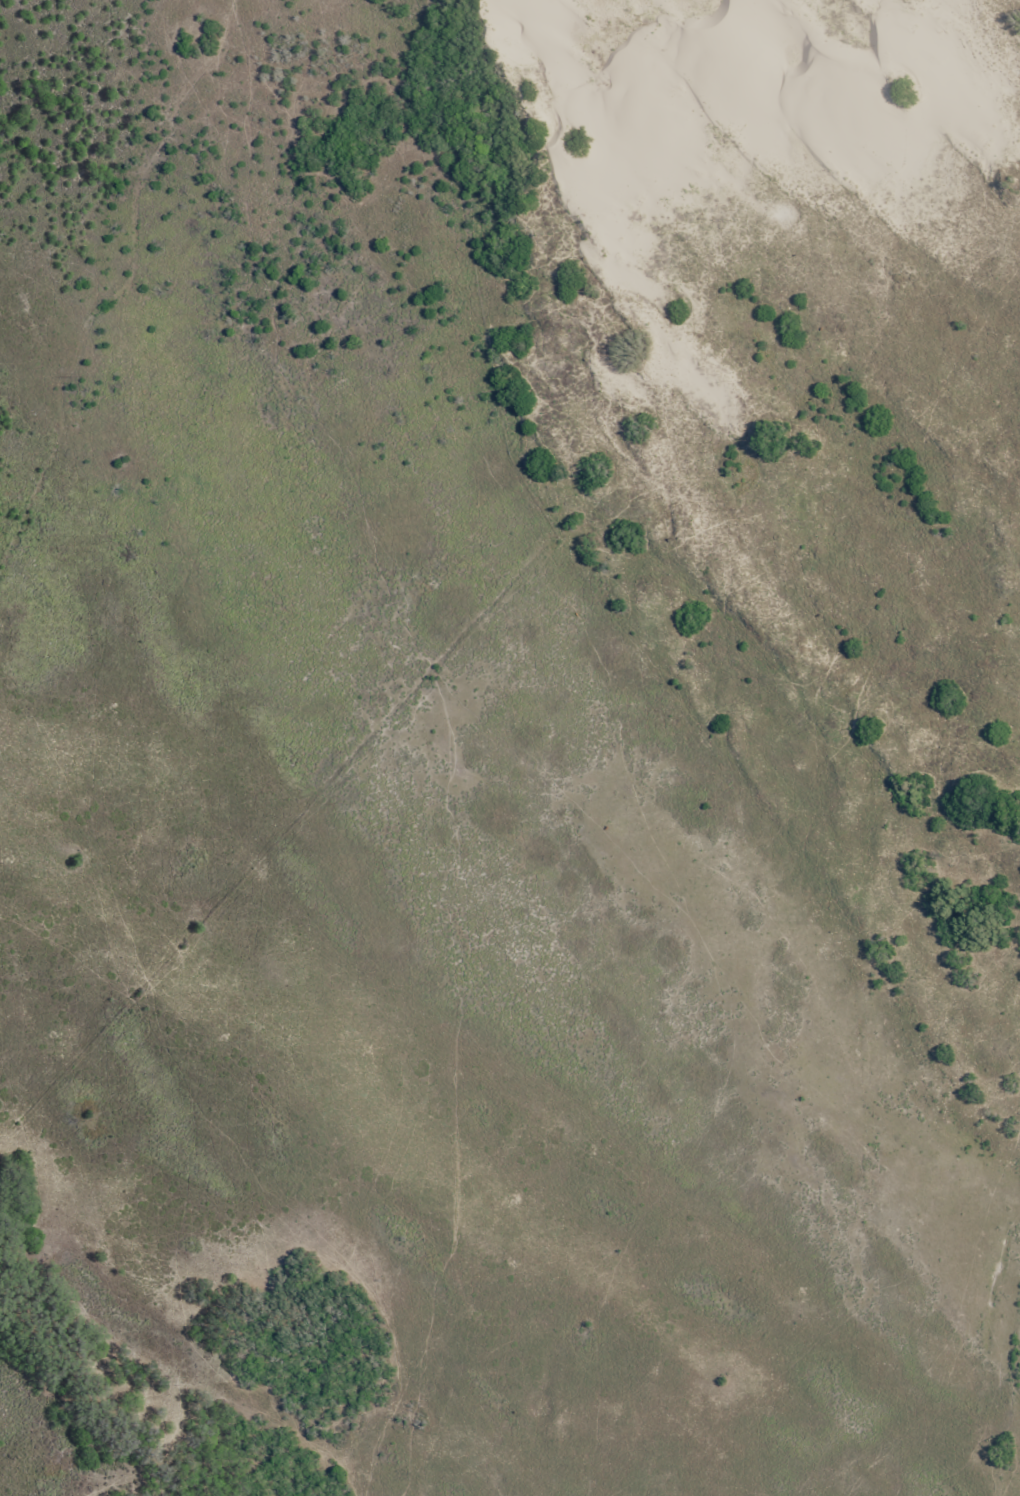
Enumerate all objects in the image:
road: (914, 743)

